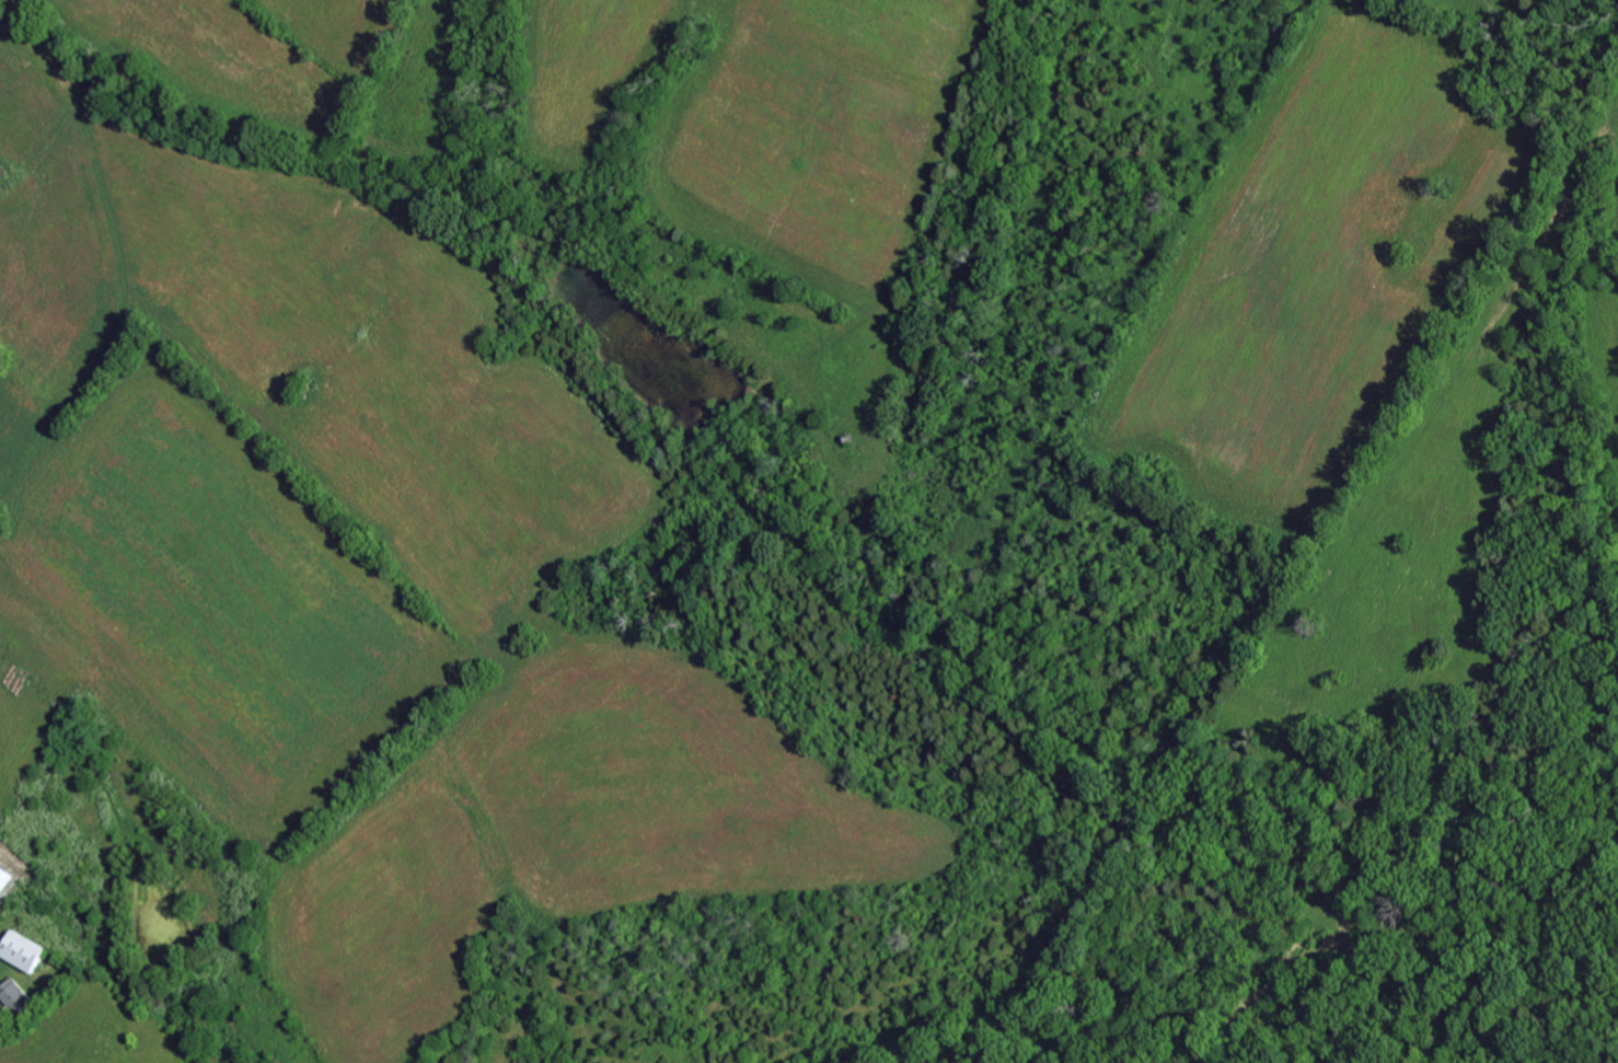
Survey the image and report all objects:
building: (4, 876)
building: (20, 949)
building: (13, 994)

